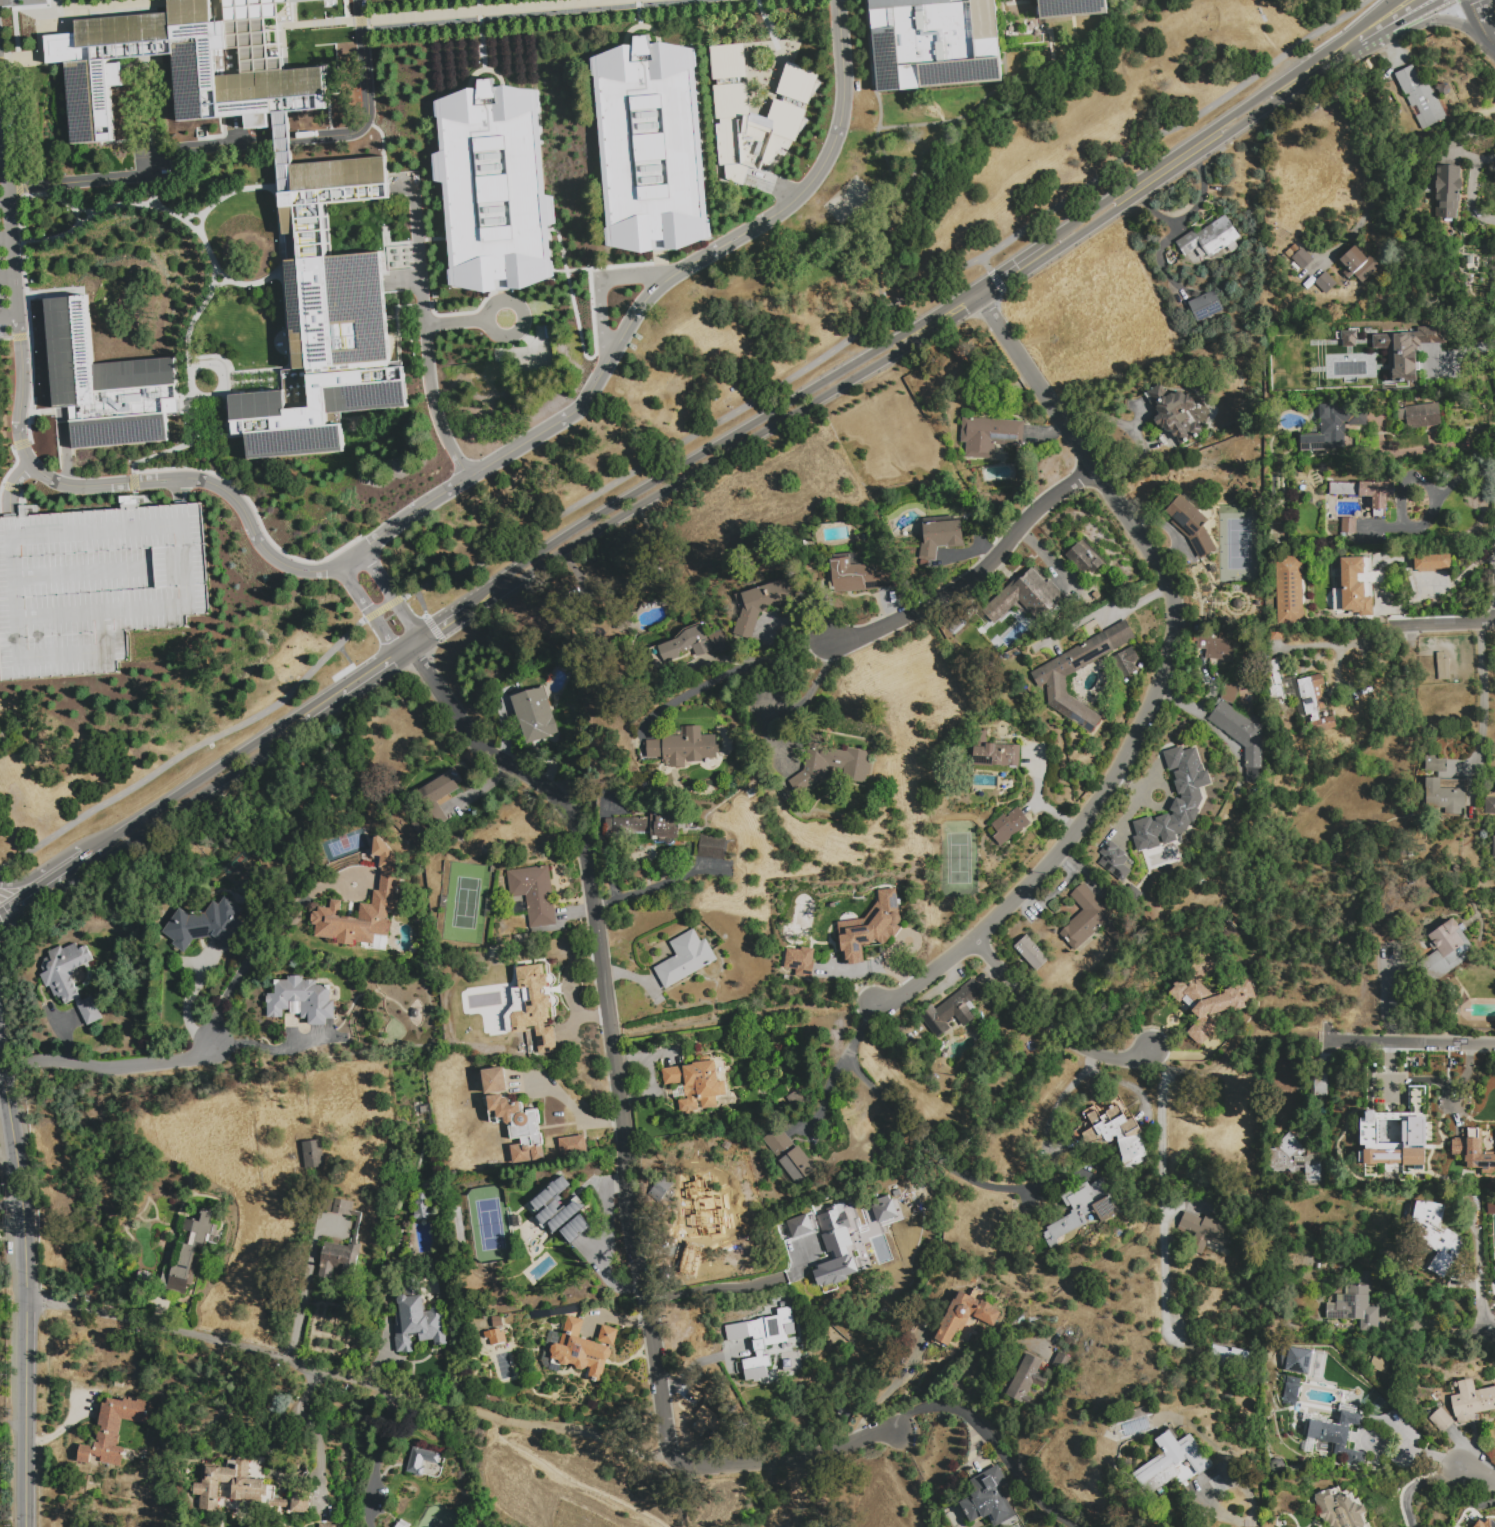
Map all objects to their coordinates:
road: (1, 0)
building: (308, 1)
road: (1016, 2)
road: (478, 6)
building: (1071, 8)
road: (217, 11)
road: (447, 14)
road: (1477, 16)
road: (1408, 18)
road: (867, 21)
road: (1429, 21)
road: (768, 30)
road: (244, 32)
road: (1075, 33)
building: (256, 34)
road: (1024, 35)
road: (1489, 38)
road: (1367, 40)
building: (934, 43)
road: (1052, 45)
building: (727, 61)
building: (177, 74)
building: (797, 84)
building: (1421, 98)
road: (366, 100)
road: (977, 108)
building: (784, 120)
building: (729, 121)
road: (1220, 125)
road: (284, 141)
building: (652, 146)
road: (1, 163)
road: (144, 172)
building: (1426, 179)
road: (153, 185)
building: (494, 188)
road: (1469, 189)
building: (1447, 192)
building: (325, 197)
road: (3, 200)
road: (60, 201)
road: (105, 210)
road: (1189, 214)
road: (191, 217)
road: (278, 217)
road: (71, 218)
road: (9, 230)
road: (5, 239)
building: (1210, 239)
building: (1294, 249)
building: (1303, 261)
road: (984, 263)
building: (1358, 264)
road: (613, 266)
road: (1007, 268)
road: (635, 275)
road: (6, 278)
road: (996, 281)
building: (1325, 283)
road: (247, 284)
road: (222, 288)
parking lot: (3, 296)
road: (203, 304)
building: (1203, 305)
road: (889, 307)
road: (8, 315)
road: (456, 323)
road: (603, 328)
road: (425, 329)
road: (491, 329)
building: (346, 334)
road: (579, 337)
building: (1349, 339)
building: (1405, 349)
road: (895, 351)
building: (1339, 363)
road: (221, 381)
building: (106, 384)
building: (1173, 413)
building: (1421, 416)
building: (285, 428)
building: (1332, 430)
building: (989, 436)
road: (725, 439)
building: (1123, 439)
road: (179, 447)
road: (1421, 449)
road: (474, 476)
road: (11, 486)
road: (179, 490)
building: (1368, 495)
building: (1191, 526)
building: (1348, 526)
building: (941, 537)
building: (1083, 560)
building: (1432, 563)
building: (860, 574)
road: (973, 575)
building: (1354, 584)
building: (94, 586)
parking garage: (94, 586)
building: (1289, 590)
building: (1025, 596)
road: (420, 601)
building: (764, 603)
road: (397, 605)
road: (382, 608)
road: (447, 612)
road: (373, 621)
road: (1445, 623)
road: (432, 628)
building: (1196, 629)
building: (1276, 636)
road: (404, 642)
road: (1351, 642)
building: (687, 646)
building: (1216, 647)
road: (412, 653)
road: (345, 658)
building: (1127, 663)
building: (1442, 667)
road: (728, 674)
road: (1160, 676)
building: (1048, 681)
building: (1285, 688)
road: (352, 693)
road: (805, 697)
road: (1485, 701)
building: (1315, 703)
building: (535, 718)
road: (1204, 720)
building: (1240, 729)
road: (247, 745)
building: (686, 747)
road: (187, 750)
building: (996, 751)
building: (1435, 764)
building: (829, 766)
road: (1130, 785)
road: (1163, 789)
building: (1445, 795)
building: (438, 796)
road: (1038, 798)
building: (1176, 801)
building: (1490, 806)
road: (1131, 814)
road: (152, 827)
building: (644, 827)
building: (1010, 828)
building: (711, 847)
building: (735, 847)
building: (1493, 848)
building: (1114, 860)
road: (51, 863)
road: (51, 877)
building: (534, 894)
building: (175, 901)
building: (199, 903)
building: (519, 907)
building: (361, 908)
building: (1092, 923)
building: (206, 925)
building: (869, 927)
road: (2, 937)
road: (265, 940)
building: (1445, 952)
building: (1032, 955)
building: (685, 959)
building: (800, 961)
building: (68, 979)
building: (1208, 997)
road: (186, 999)
building: (301, 1000)
building: (1396, 1005)
building: (535, 1007)
building: (953, 1012)
road: (741, 1018)
road: (1048, 1023)
road: (1406, 1041)
road: (1227, 1049)
road: (112, 1065)
building: (1475, 1077)
building: (495, 1079)
building: (696, 1083)
road: (829, 1085)
building: (1321, 1085)
building: (1390, 1088)
road: (575, 1111)
building: (519, 1126)
building: (1114, 1130)
building: (1384, 1131)
building: (1076, 1134)
building: (1416, 1134)
road: (622, 1139)
building: (573, 1144)
road: (918, 1145)
building: (312, 1152)
building: (1475, 1155)
building: (791, 1158)
building: (1295, 1160)
building: (666, 1190)
road: (1162, 1196)
building: (1470, 1203)
road: (11, 1205)
building: (421, 1208)
building: (1082, 1208)
building: (1491, 1208)
building: (883, 1209)
building: (561, 1210)
building: (844, 1220)
building: (717, 1224)
building: (804, 1224)
building: (356, 1229)
building: (1438, 1231)
building: (1205, 1234)
building: (191, 1254)
building: (852, 1259)
road: (728, 1288)
road: (25, 1292)
road: (303, 1295)
building: (1356, 1303)
building: (564, 1310)
building: (964, 1315)
building: (497, 1322)
building: (417, 1323)
road: (1438, 1327)
building: (495, 1336)
road: (1491, 1336)
building: (755, 1344)
building: (579, 1349)
road: (204, 1355)
building: (1229, 1359)
building: (1297, 1360)
building: (792, 1361)
building: (1062, 1364)
building: (1378, 1364)
road: (346, 1379)
building: (1026, 1380)
road: (894, 1385)
building: (1291, 1390)
building: (1471, 1401)
road: (291, 1417)
building: (1441, 1420)
building: (707, 1421)
road: (12, 1424)
building: (115, 1429)
road: (57, 1432)
building: (1339, 1436)
road: (992, 1442)
road: (1367, 1444)
road: (1415, 1451)
road: (377, 1459)
building: (420, 1461)
building: (1172, 1461)
road: (1474, 1471)
road: (570, 1481)
park: (675, 1485)
road: (1416, 1485)
building: (1219, 1486)
building: (244, 1489)
road: (802, 1492)
building: (989, 1498)
building: (1340, 1509)
building: (1485, 1523)
building: (402, 1524)
building: (325, 1525)
road: (1240, 1525)

